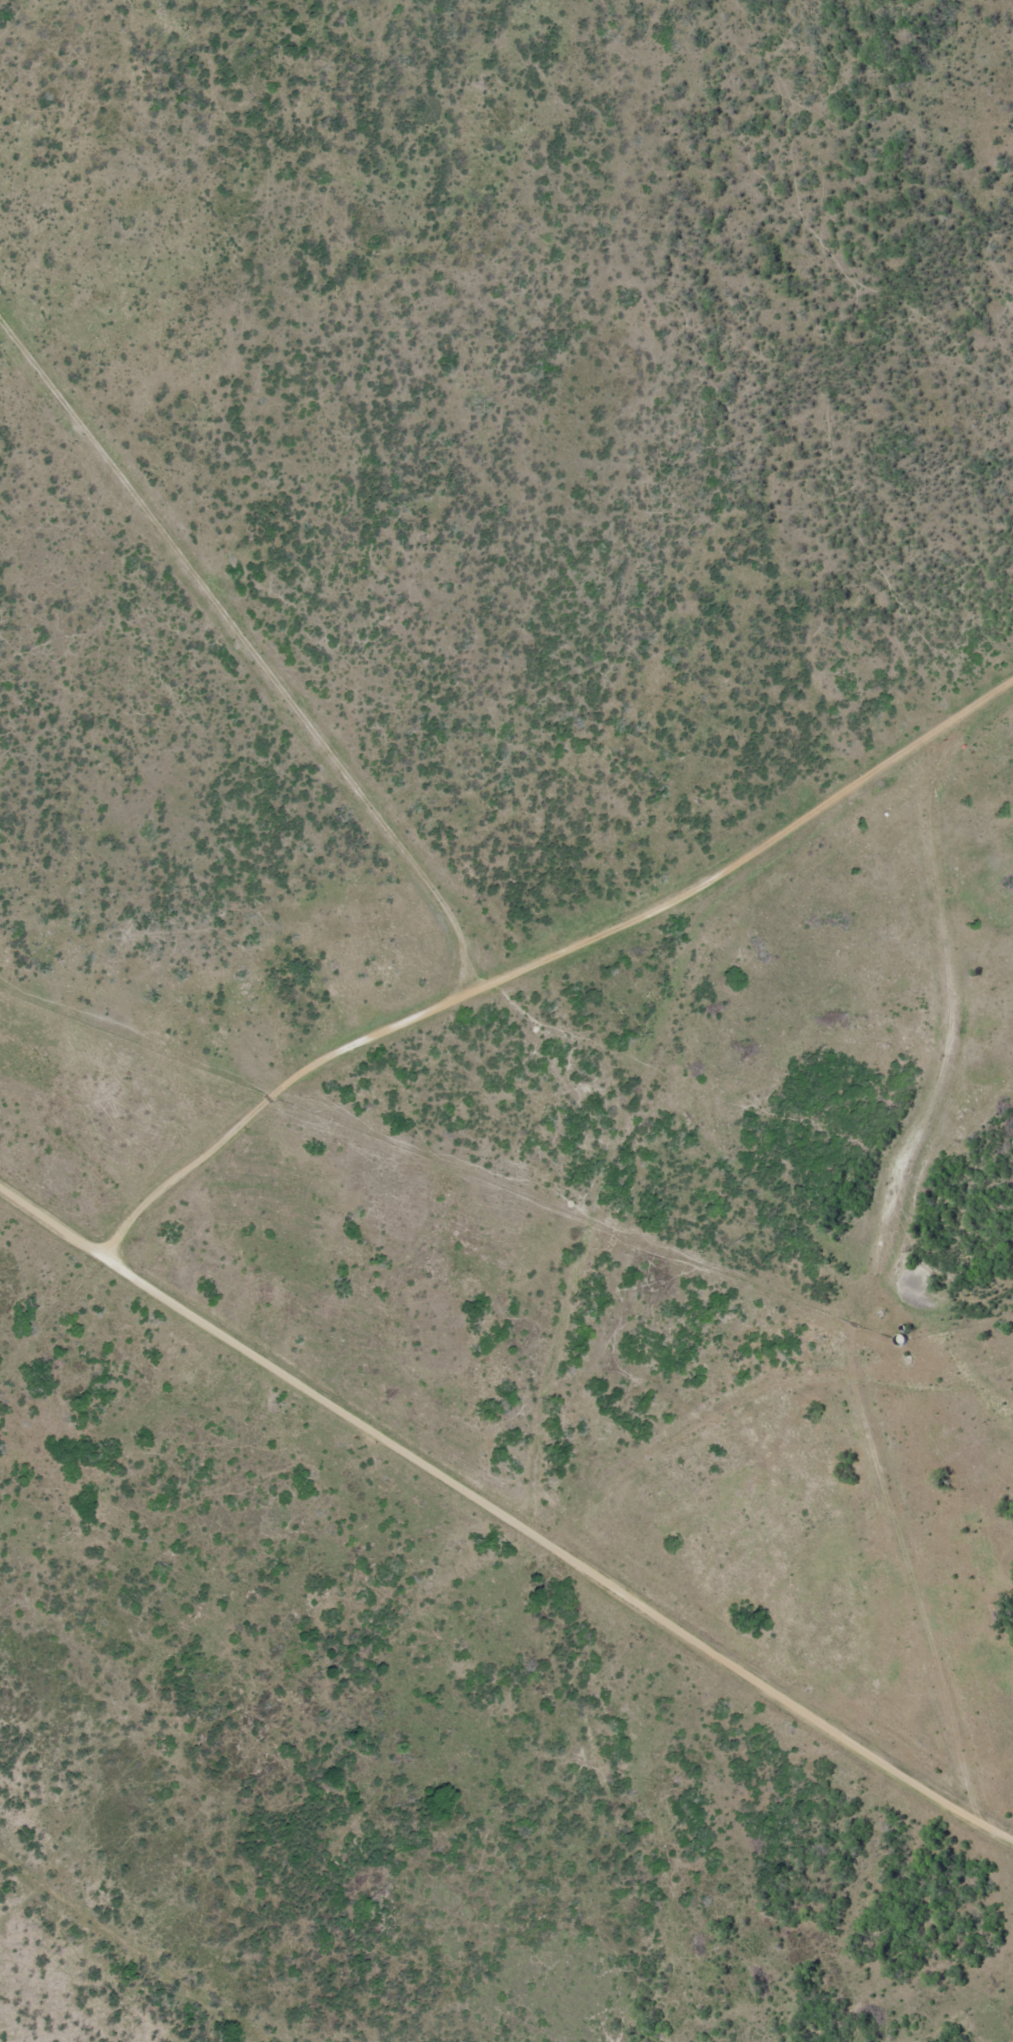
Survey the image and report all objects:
road: (511, 971)
road: (881, 1217)
road: (506, 1520)

